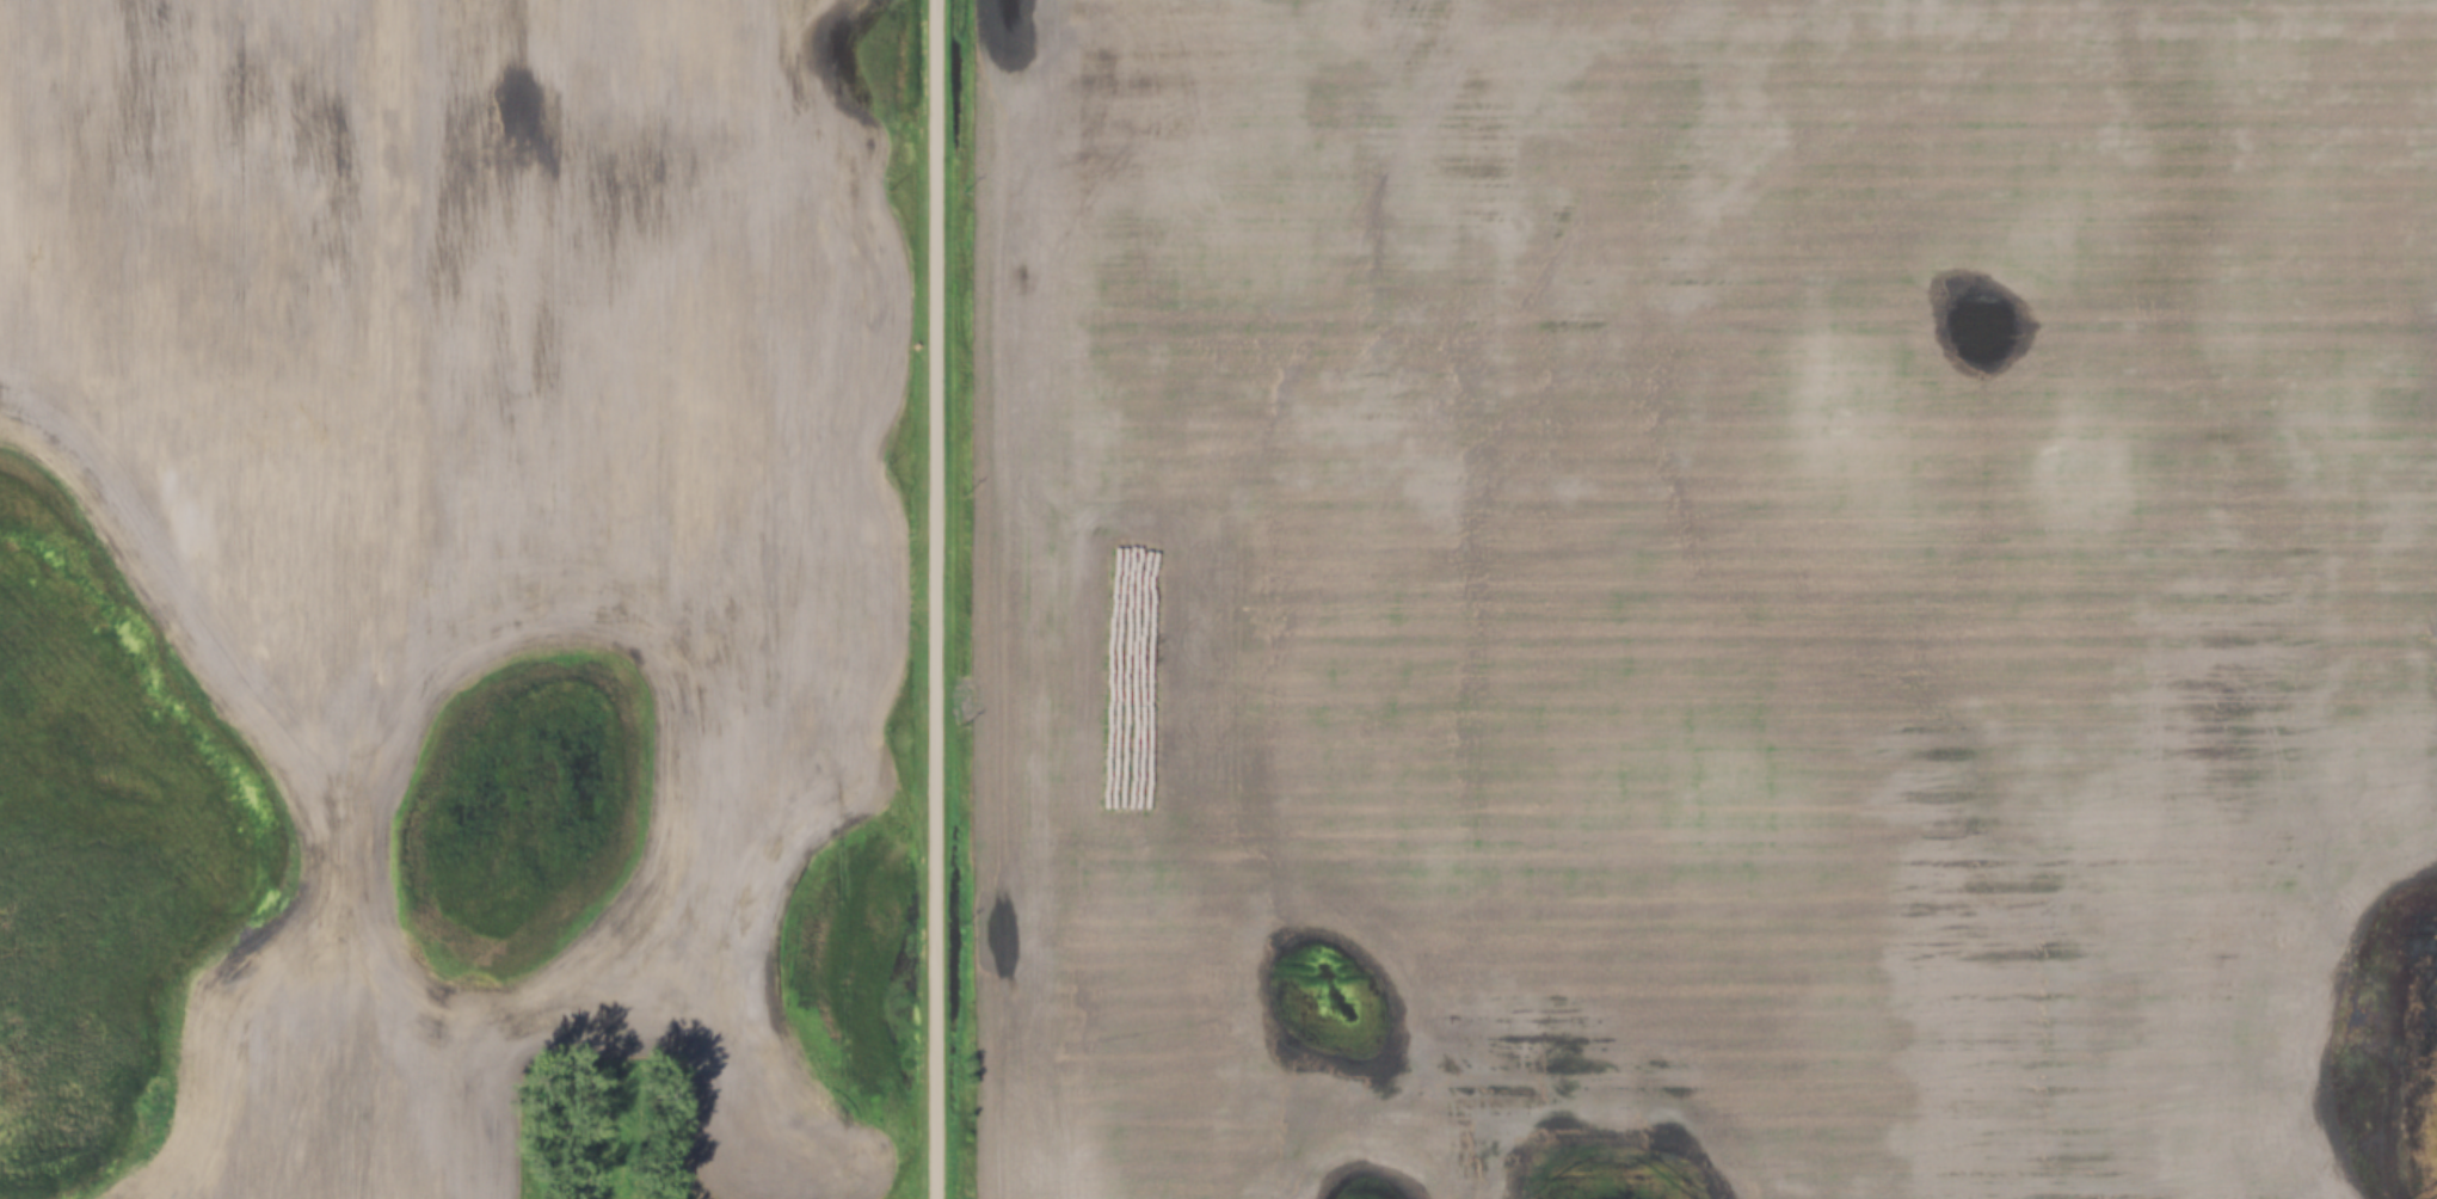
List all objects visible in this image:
road: (937, 599)

